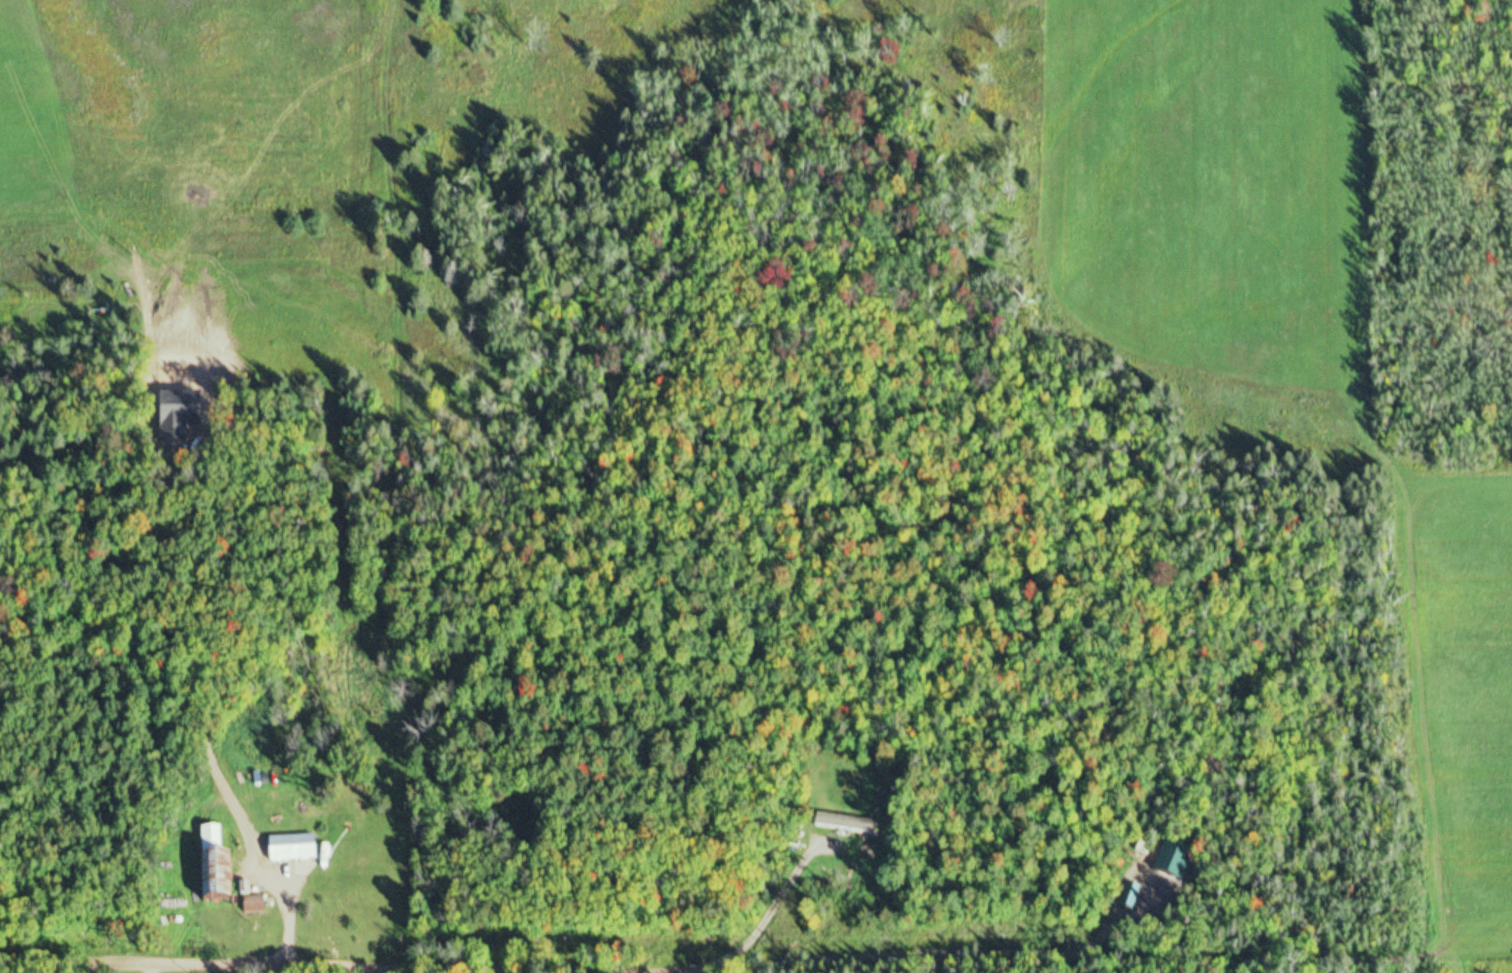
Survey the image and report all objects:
building: (831, 825)
building: (342, 848)
building: (286, 849)
building: (203, 868)
building: (1124, 898)
road: (1493, 965)
road: (1230, 969)

